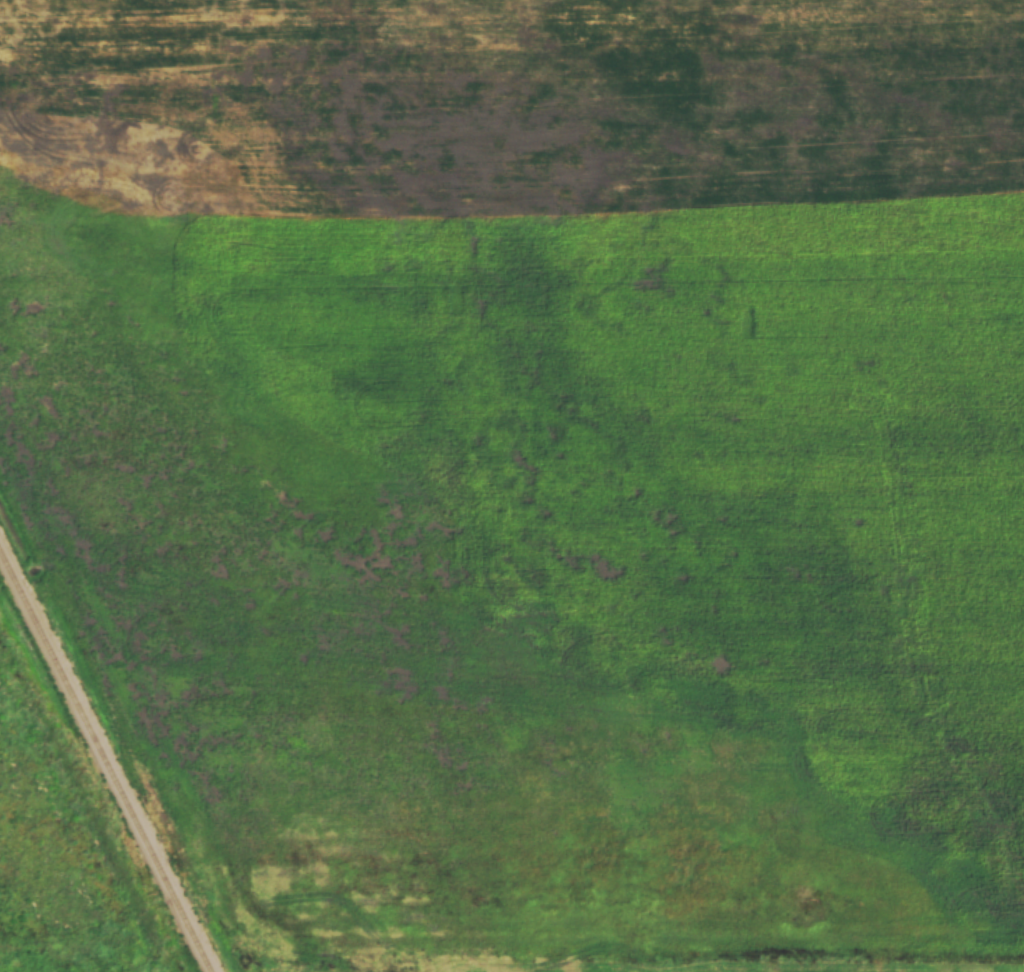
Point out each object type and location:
railway: (103, 766)

